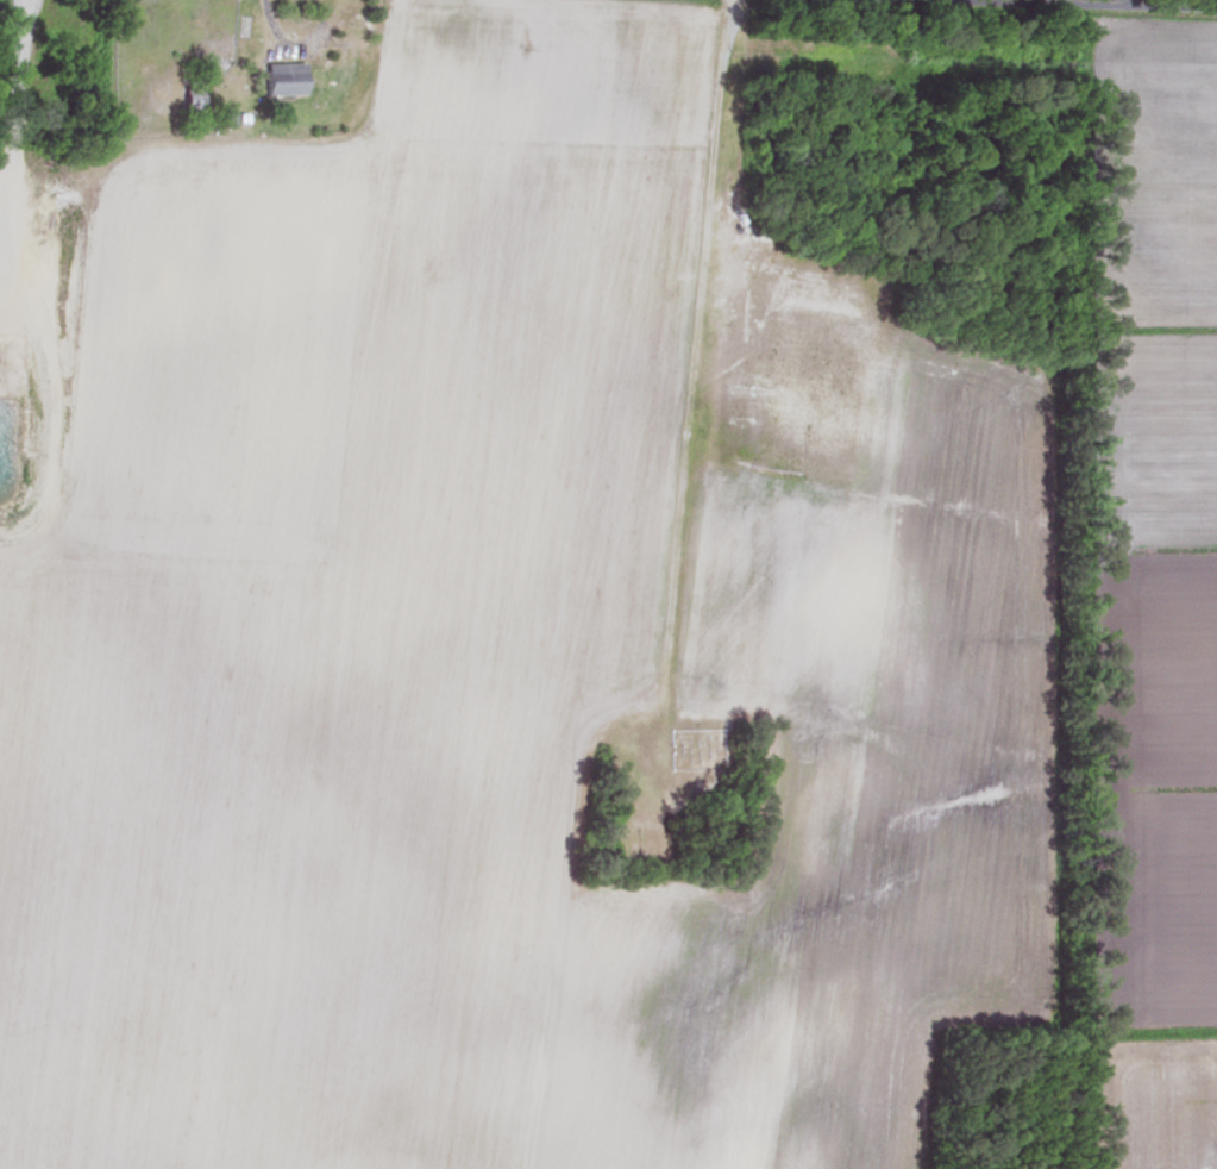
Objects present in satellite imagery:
road: (1085, 4)
building: (283, 79)
building: (190, 100)

